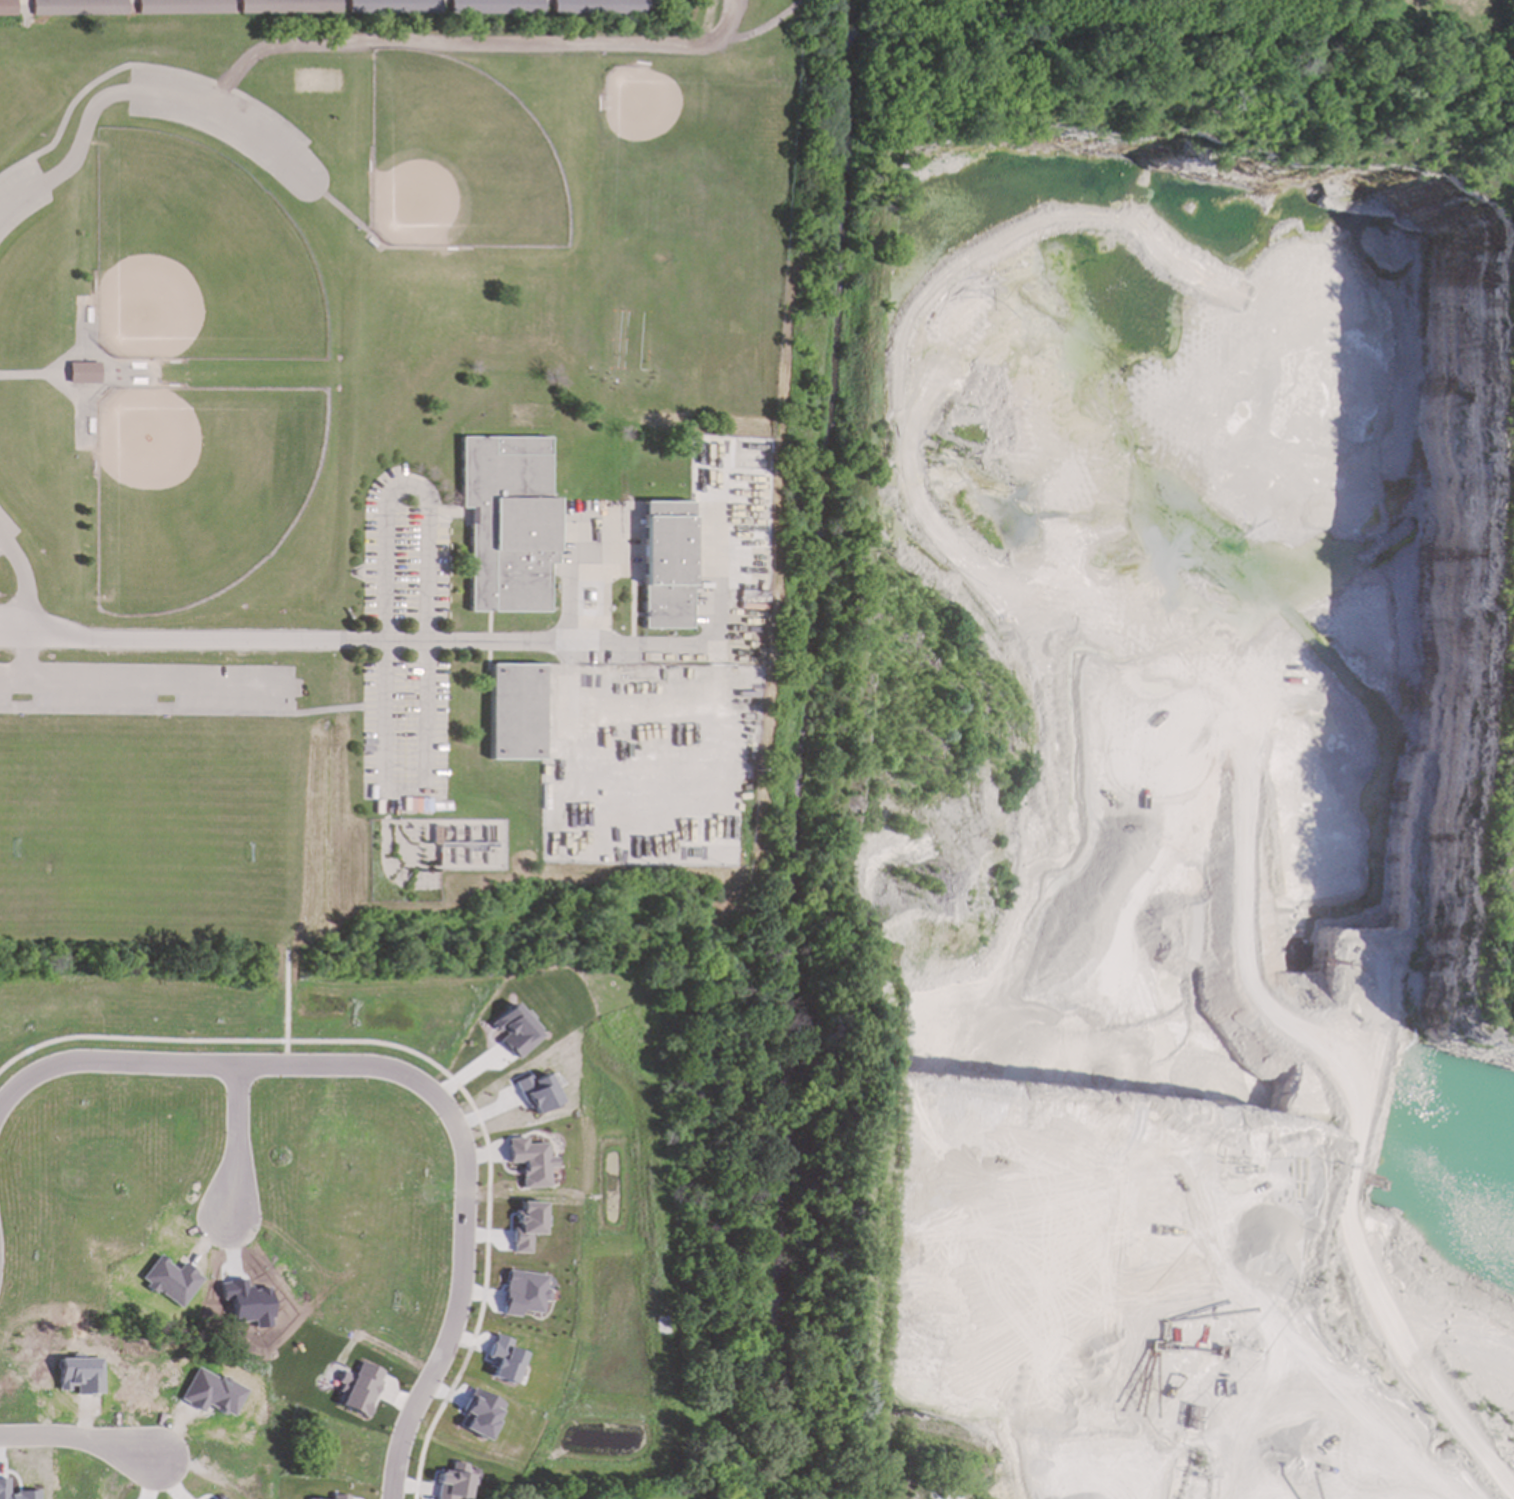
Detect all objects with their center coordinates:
building: (183, 7)
building: (288, 7)
building: (394, 7)
building: (496, 7)
building: (600, 7)
building: (7, 8)
building: (77, 8)
park: (767, 15)
road: (707, 21)
road: (494, 43)
road: (140, 90)
park: (459, 163)
road: (338, 206)
park: (199, 258)
road: (98, 359)
building: (83, 373)
road: (48, 374)
road: (24, 375)
park: (327, 389)
road: (82, 402)
park: (199, 490)
building: (509, 529)
building: (664, 565)
road: (24, 581)
road: (26, 628)
road: (443, 642)
park: (7, 658)
road: (339, 709)
building: (515, 712)
road: (403, 787)
quarry: (1158, 801)
park: (163, 827)
road: (286, 1011)
building: (513, 1031)
road: (440, 1071)
road: (420, 1092)
building: (534, 1093)
road: (229, 1149)
building: (529, 1162)
building: (525, 1226)
building: (521, 1293)
building: (246, 1303)
building: (501, 1360)
building: (358, 1390)
building: (479, 1414)
road: (78, 1444)
building: (451, 1482)
building: (337, 1497)
building: (219, 1498)

